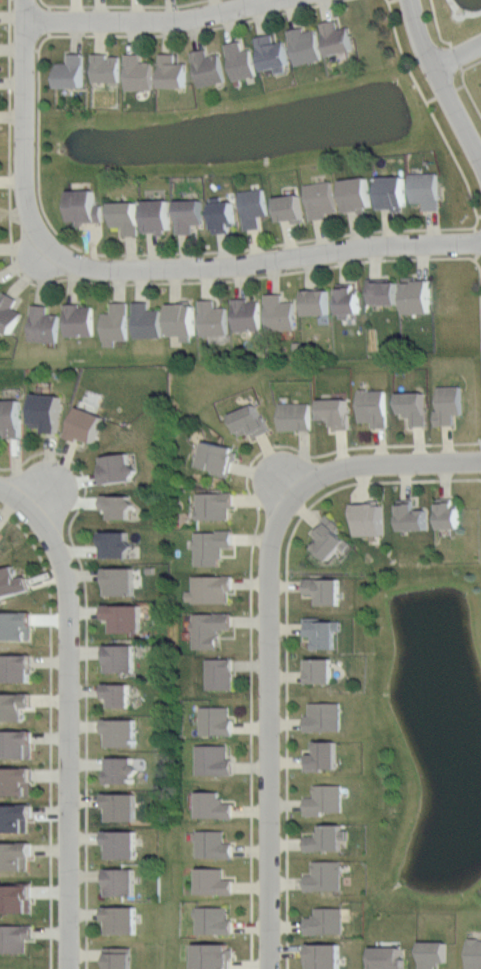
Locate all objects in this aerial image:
road: (121, 5)
road: (437, 24)
road: (149, 25)
building: (339, 37)
building: (307, 46)
building: (273, 52)
building: (240, 59)
road: (462, 59)
building: (105, 67)
building: (208, 67)
building: (71, 71)
building: (172, 71)
building: (138, 73)
road: (446, 77)
road: (464, 83)
road: (26, 124)
building: (426, 187)
building: (392, 191)
building: (358, 194)
building: (321, 199)
building: (253, 205)
building: (83, 206)
building: (289, 207)
building: (189, 214)
building: (222, 214)
building: (156, 216)
building: (125, 217)
road: (137, 253)
road: (261, 264)
road: (129, 283)
building: (0, 284)
building: (383, 291)
building: (417, 294)
building: (348, 299)
building: (317, 301)
building: (8, 311)
building: (279, 312)
building: (247, 315)
building: (214, 318)
building: (182, 319)
building: (79, 320)
building: (149, 320)
building: (117, 324)
building: (43, 325)
building: (450, 405)
building: (374, 407)
building: (414, 407)
building: (46, 411)
building: (338, 413)
building: (11, 417)
building: (297, 417)
building: (250, 419)
building: (86, 424)
building: (215, 455)
road: (375, 465)
building: (118, 468)
road: (17, 503)
building: (215, 503)
building: (119, 505)
building: (449, 514)
building: (411, 516)
building: (369, 517)
building: (0, 535)
building: (329, 538)
building: (115, 544)
building: (211, 546)
building: (120, 581)
building: (11, 582)
building: (211, 590)
building: (325, 590)
road: (251, 593)
building: (124, 617)
building: (14, 625)
building: (210, 629)
building: (323, 629)
road: (287, 645)
building: (121, 659)
building: (18, 668)
road: (86, 669)
building: (321, 670)
building: (219, 672)
building: (119, 695)
building: (14, 706)
building: (324, 716)
building: (215, 720)
road: (50, 730)
building: (121, 732)
road: (270, 737)
road: (68, 738)
building: (15, 744)
building: (323, 756)
building: (213, 760)
building: (121, 770)
building: (15, 781)
building: (324, 799)
building: (121, 806)
building: (214, 806)
building: (15, 817)
building: (326, 837)
building: (122, 843)
building: (212, 843)
building: (15, 856)
building: (325, 876)
building: (120, 880)
building: (214, 881)
building: (16, 898)
building: (122, 918)
building: (215, 920)
building: (326, 921)
building: (14, 938)
building: (433, 954)
building: (474, 954)
building: (212, 955)
building: (326, 955)
building: (119, 958)
building: (388, 958)

